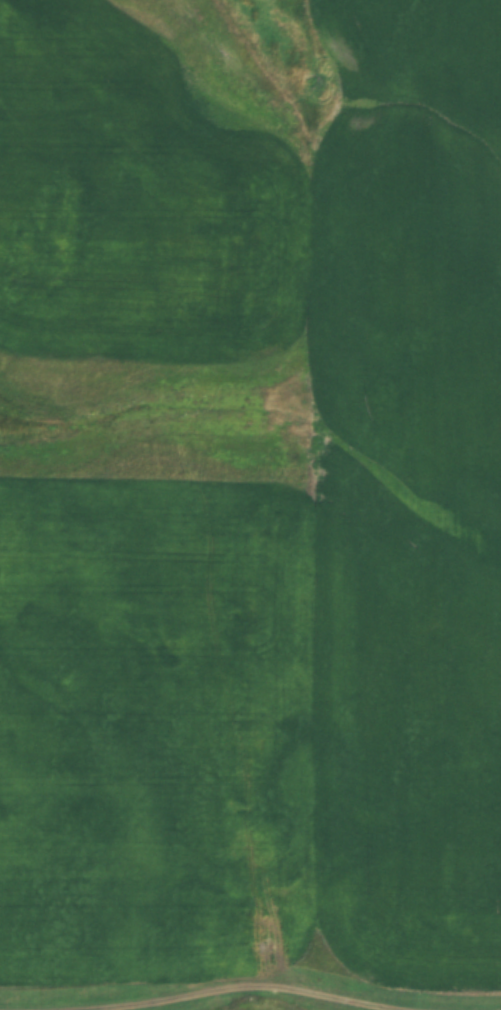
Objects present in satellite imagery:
road: (250, 987)

